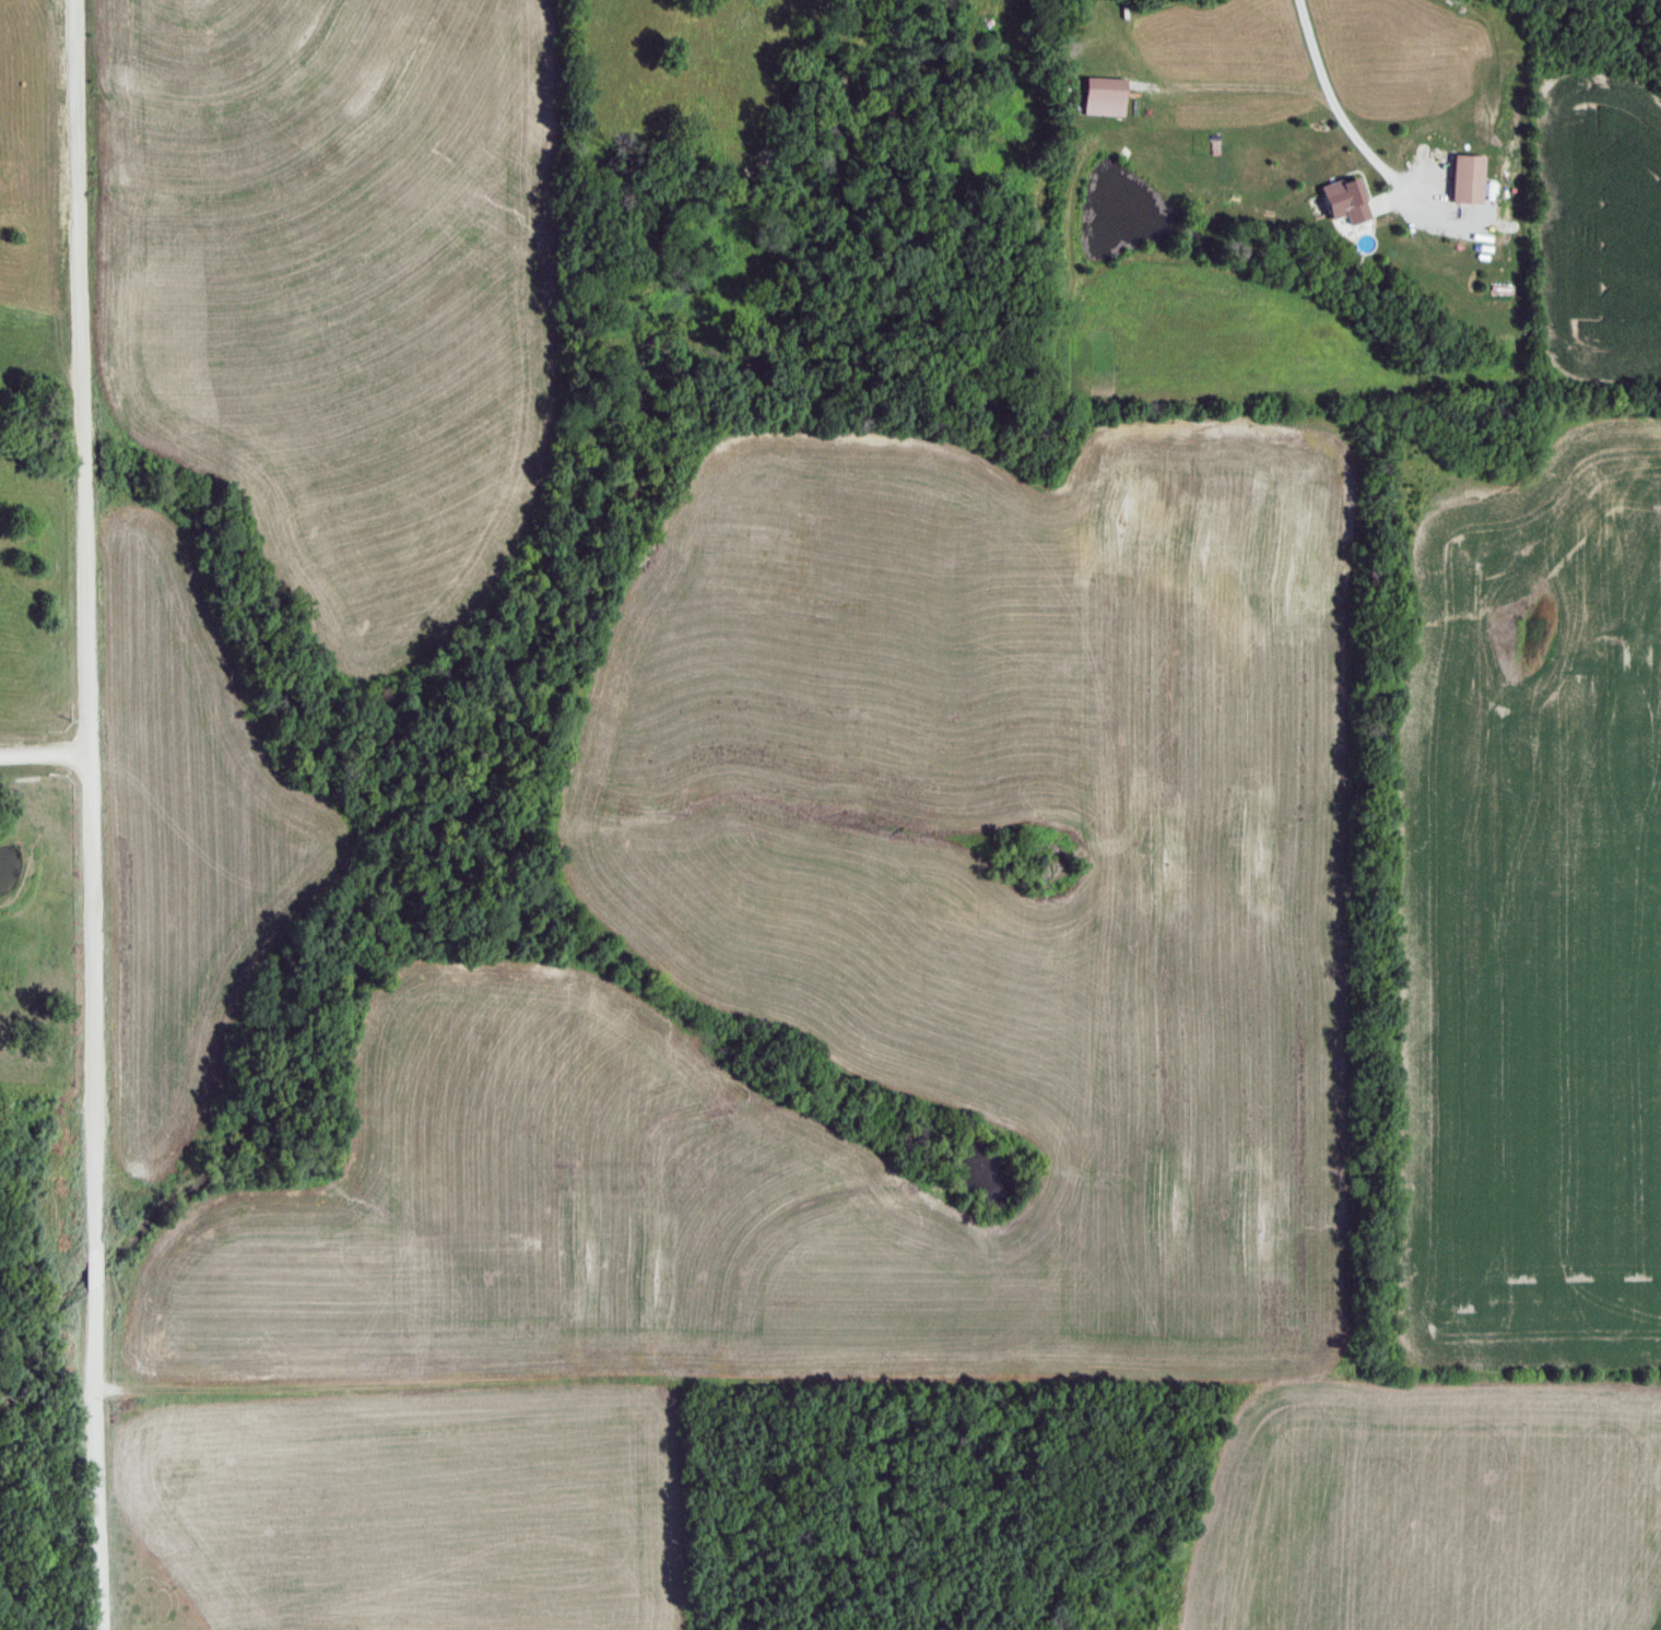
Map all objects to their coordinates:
road: (46, 755)
road: (92, 814)

